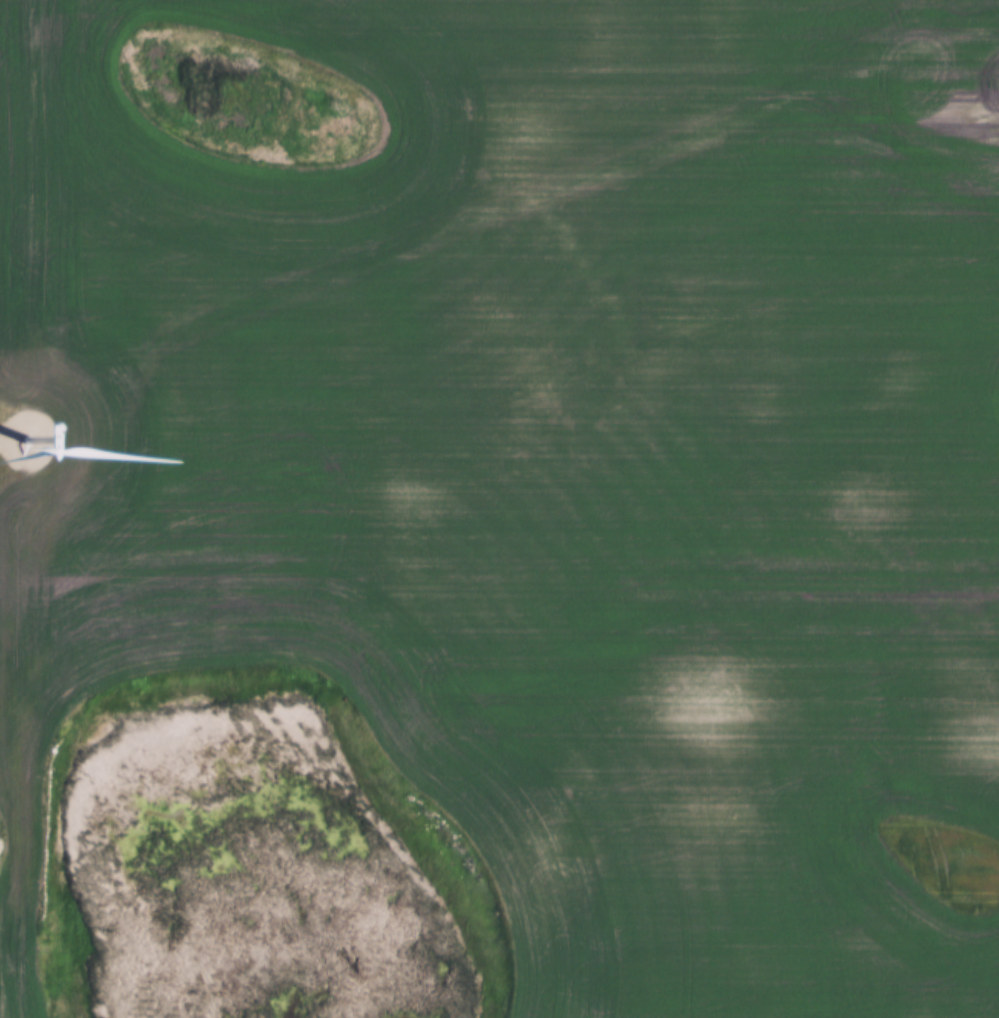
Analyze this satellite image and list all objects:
wind turbine: (24, 442)

